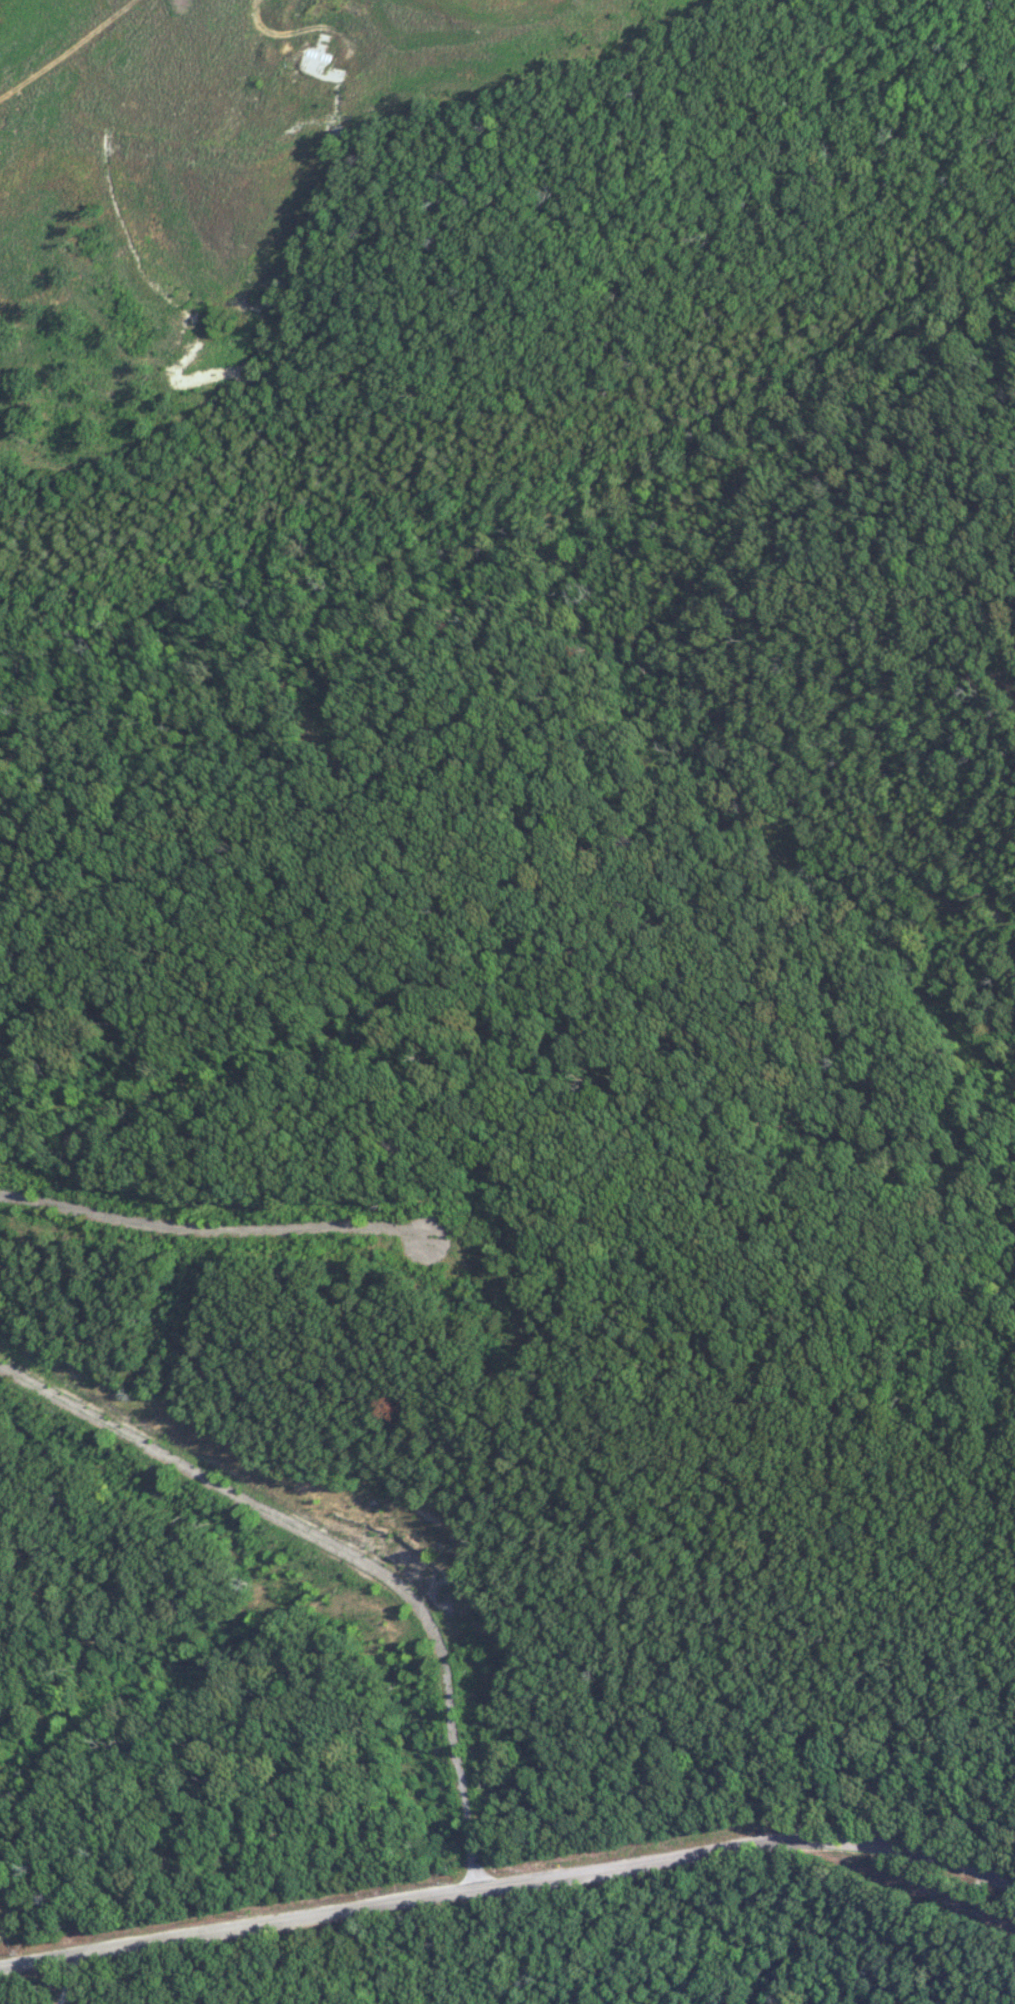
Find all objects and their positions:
road: (315, 1534)
road: (473, 1857)
road: (509, 1883)
road: (65, 1979)

